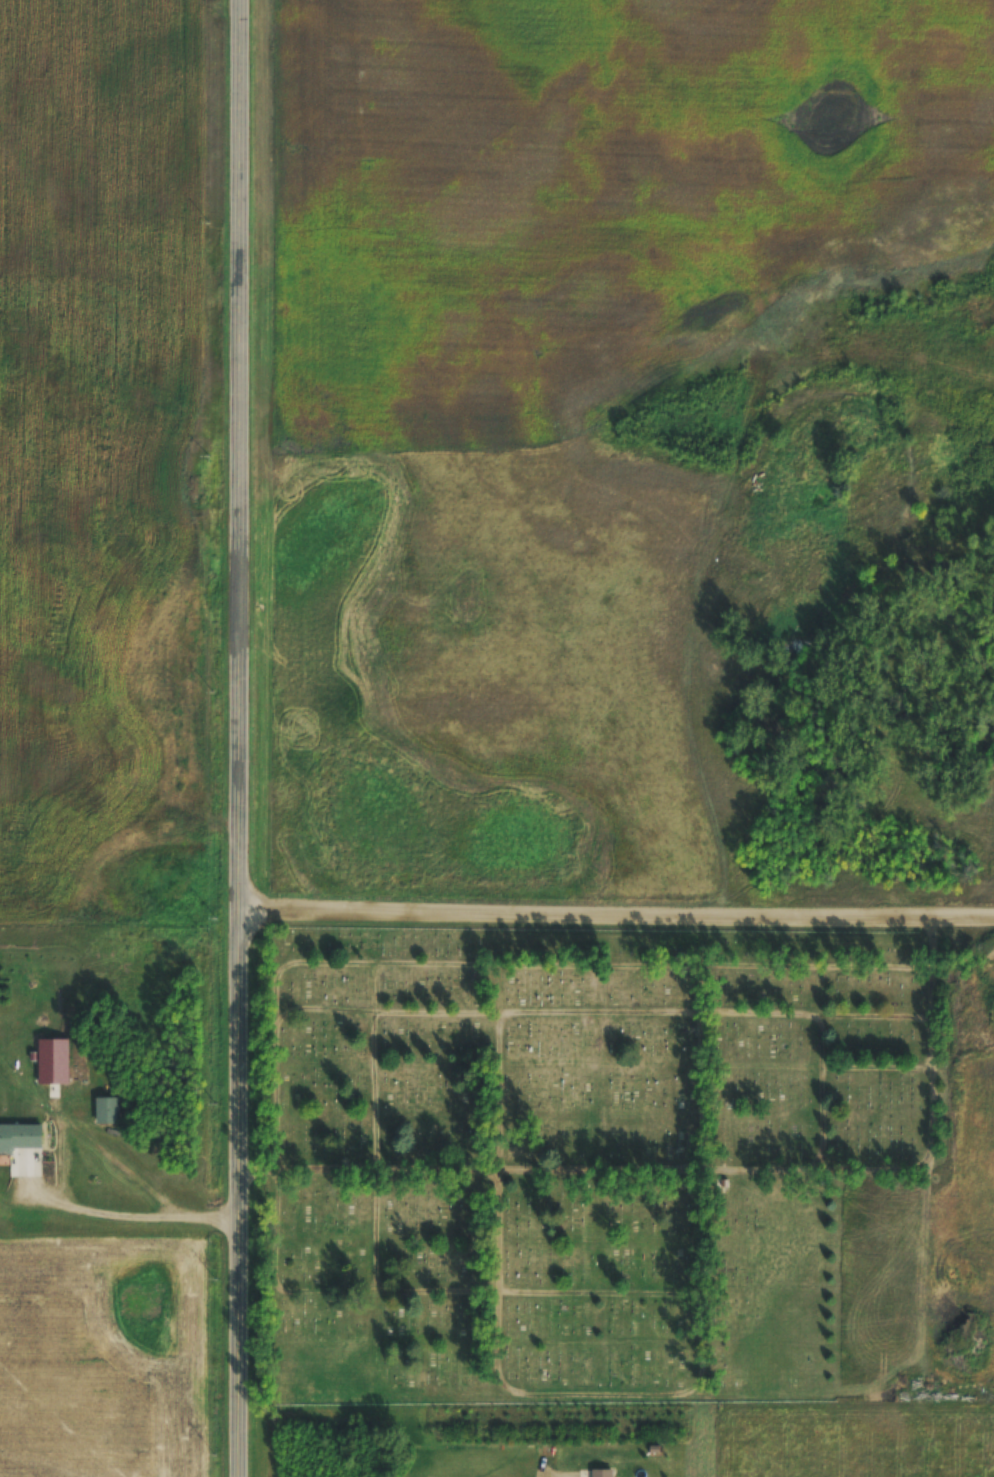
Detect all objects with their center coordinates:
road: (236, 738)
road: (615, 909)
building: (53, 1061)
building: (20, 1137)
building: (602, 1473)

